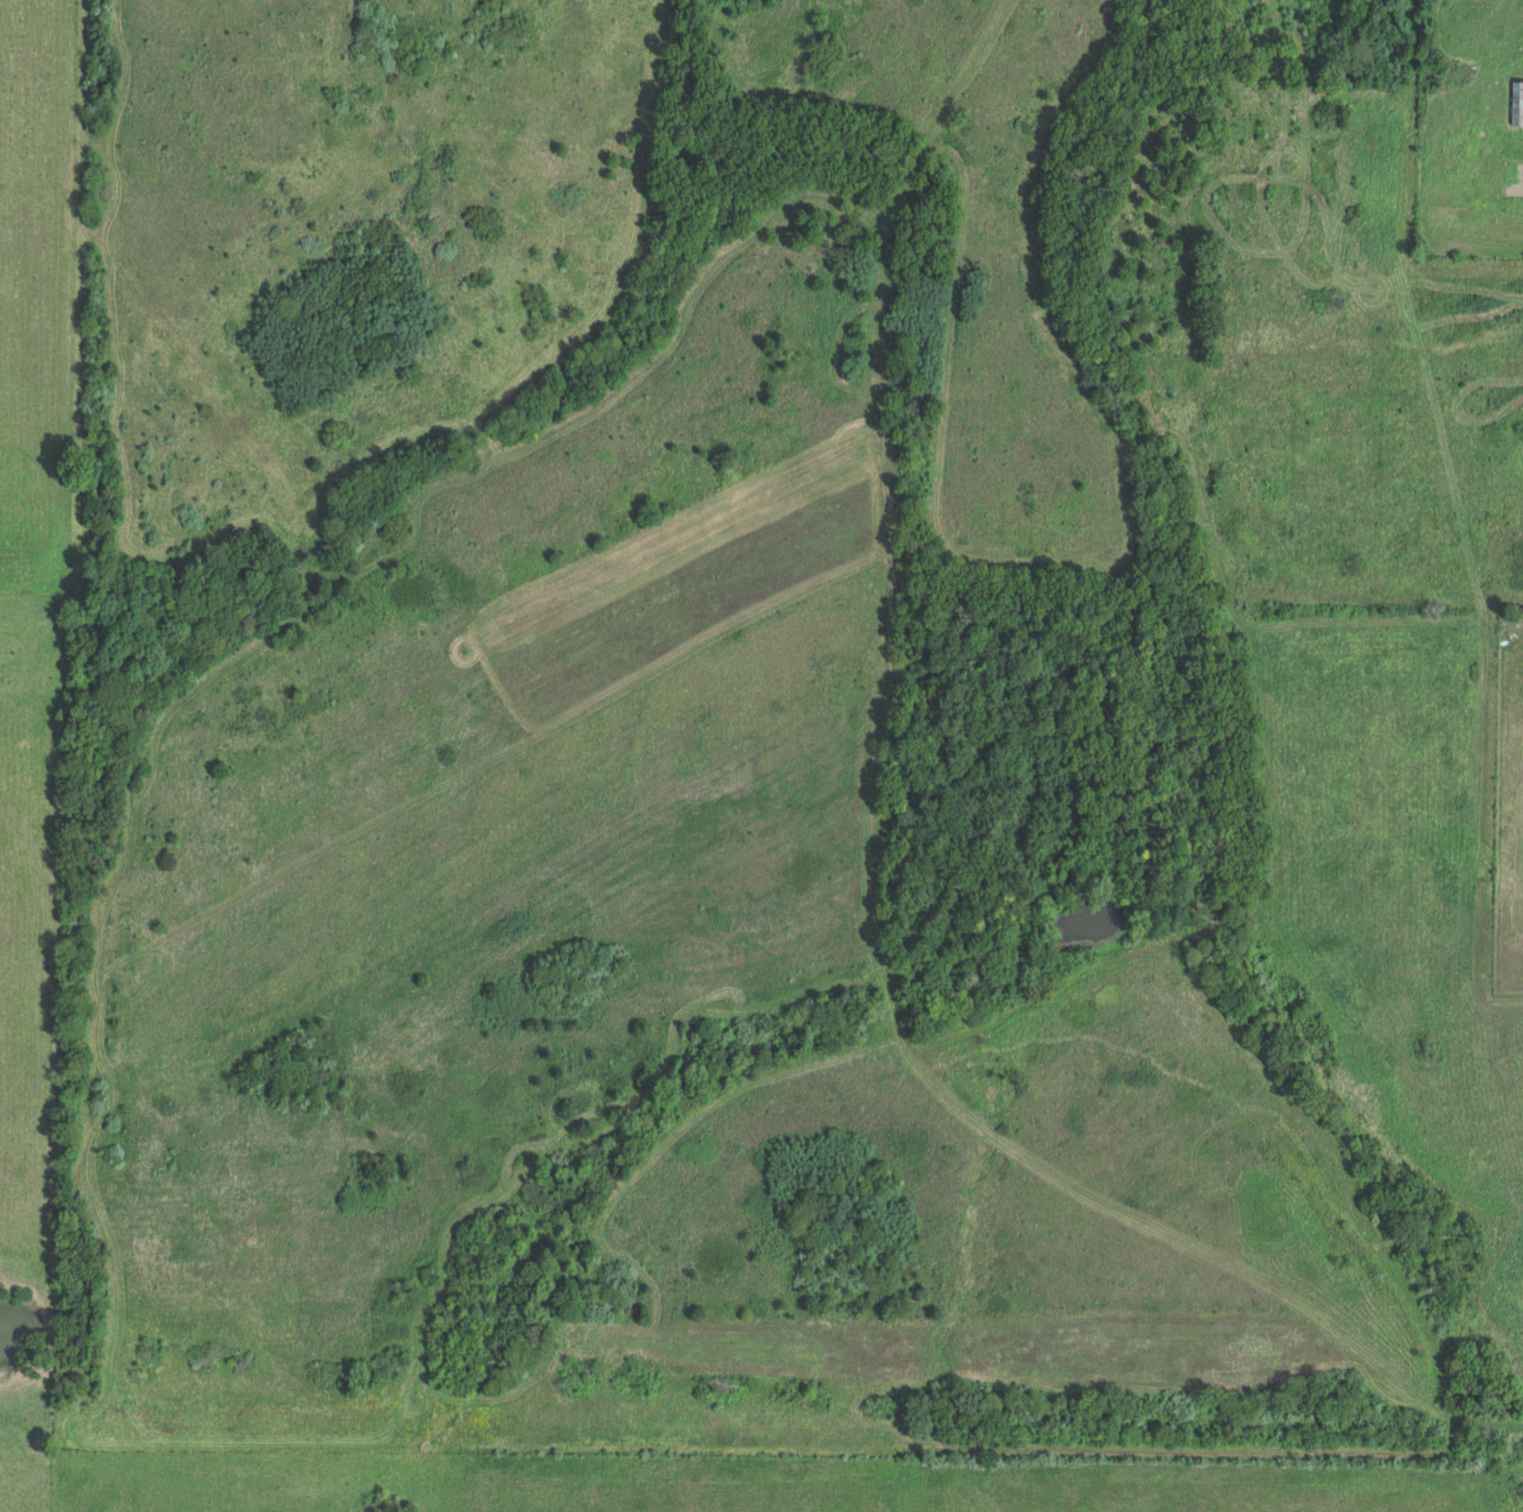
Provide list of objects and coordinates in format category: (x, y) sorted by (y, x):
building: (1517, 103)

